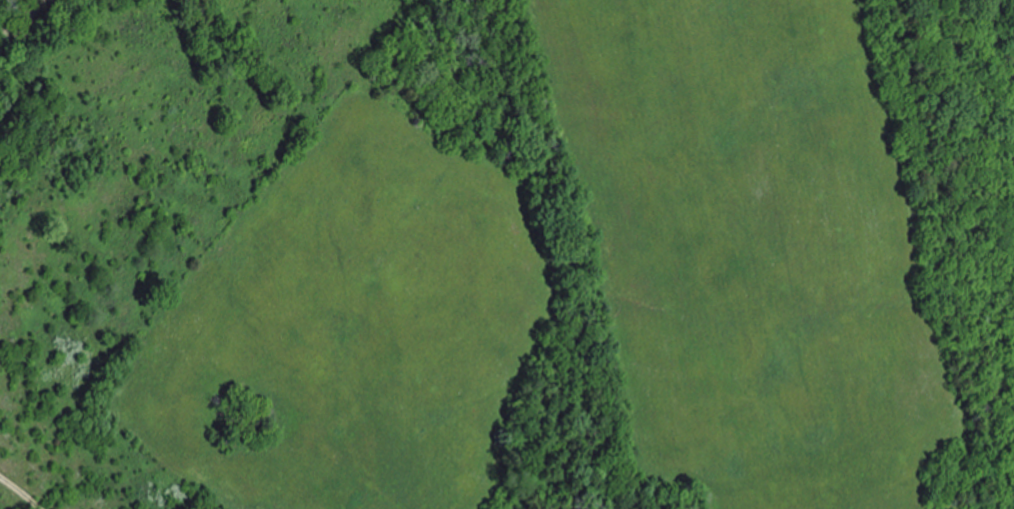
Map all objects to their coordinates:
road: (20, 493)

